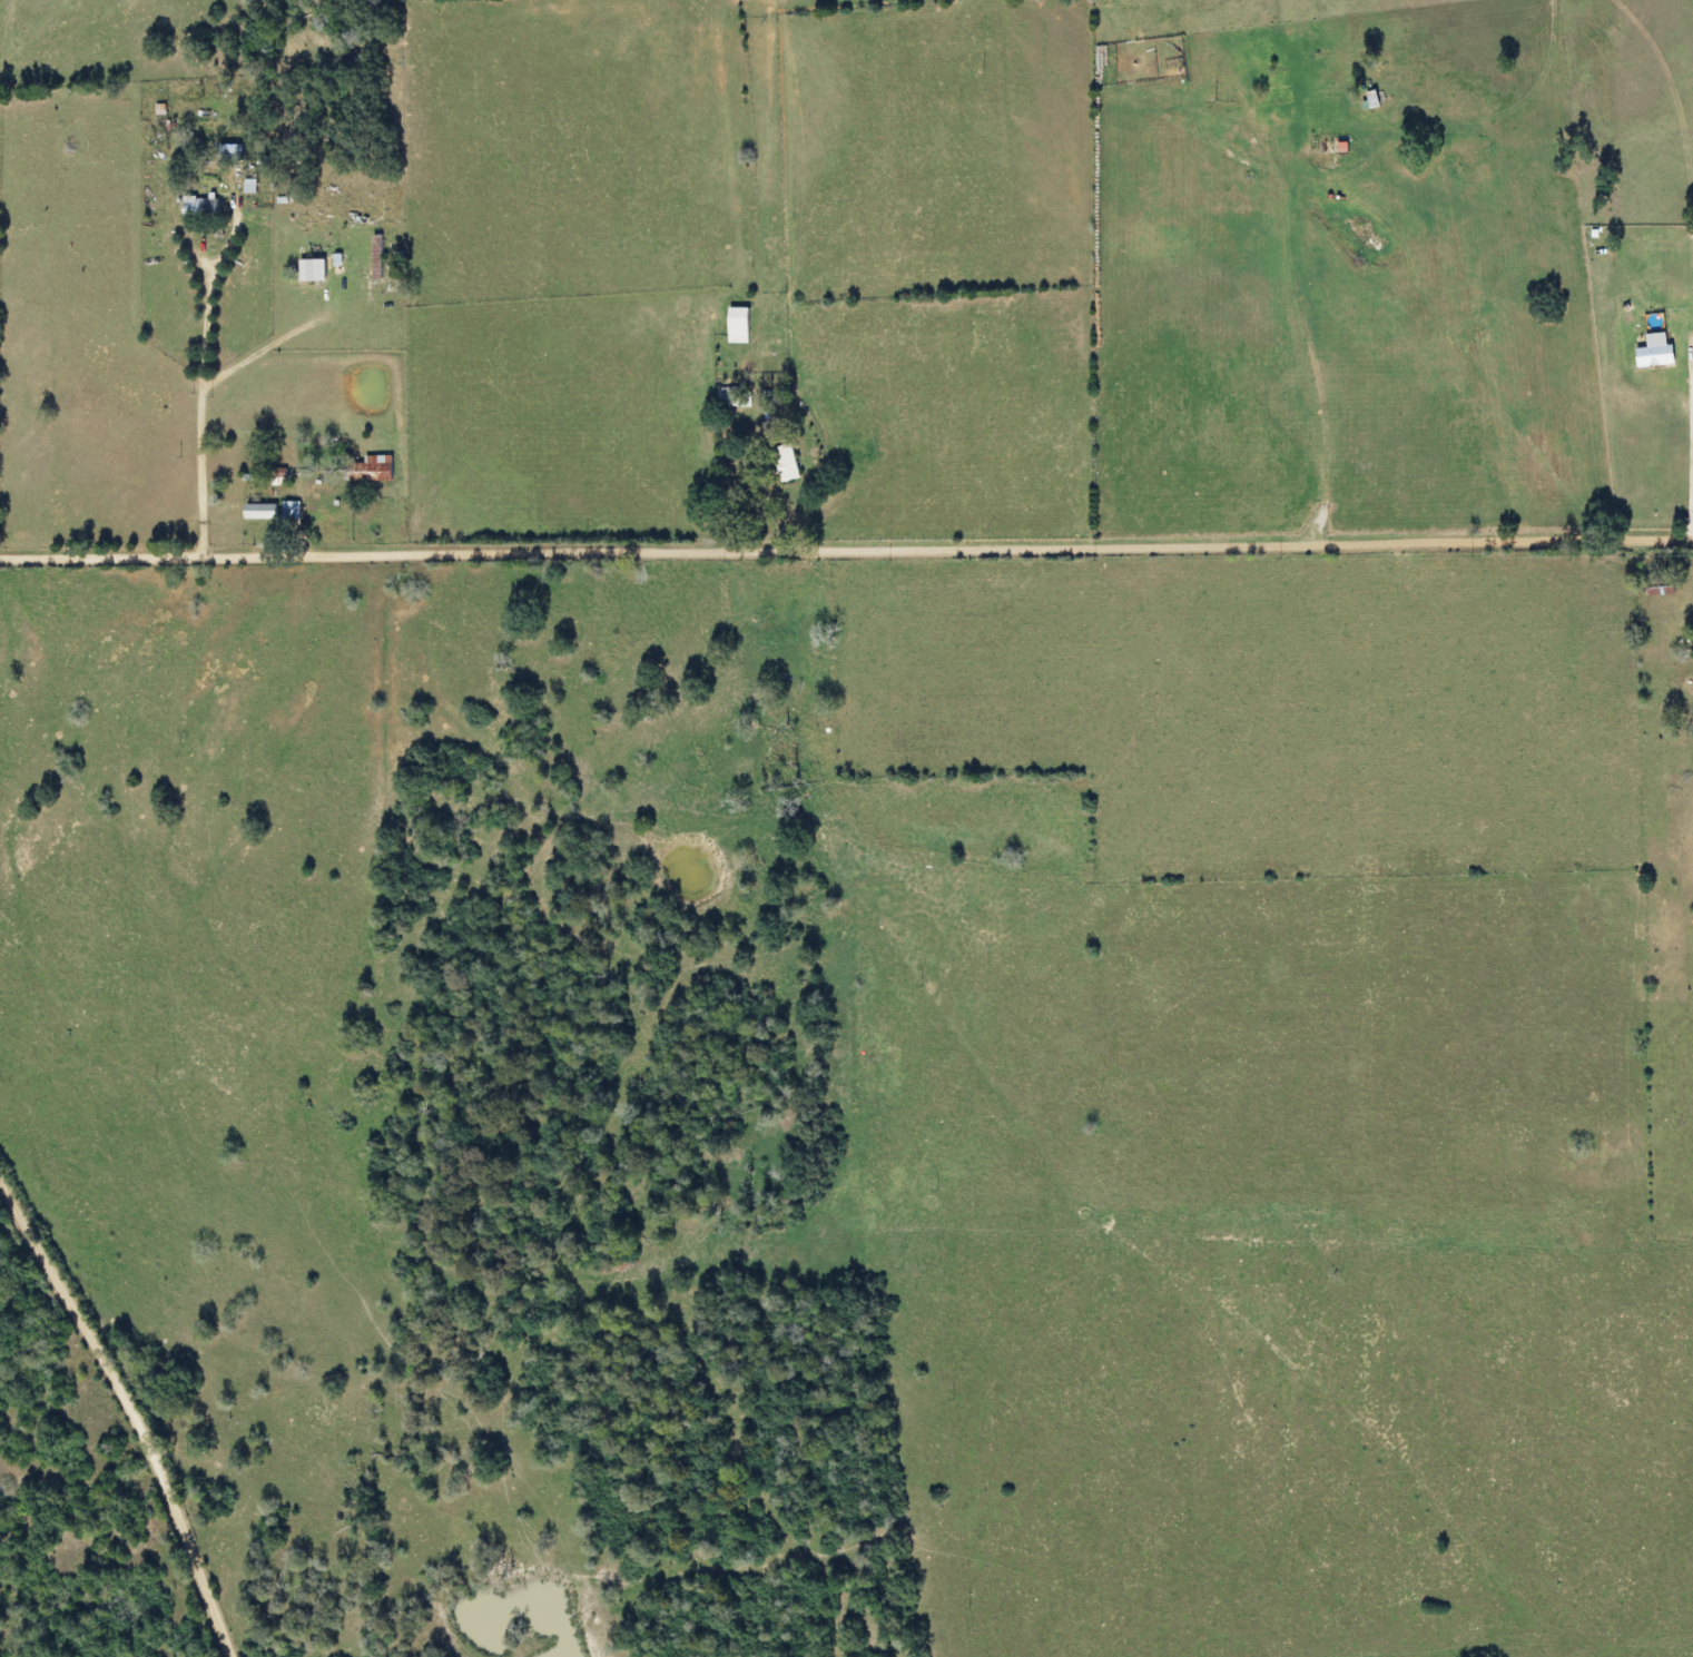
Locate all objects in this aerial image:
building: (1371, 100)
building: (1327, 146)
building: (234, 150)
building: (198, 205)
building: (375, 257)
road: (56, 266)
building: (312, 269)
building: (737, 322)
road: (92, 357)
road: (1316, 387)
building: (724, 396)
building: (742, 400)
building: (784, 463)
building: (370, 469)
road: (266, 504)
building: (259, 511)
building: (289, 511)
road: (846, 546)
building: (1658, 589)
road: (136, 1404)

